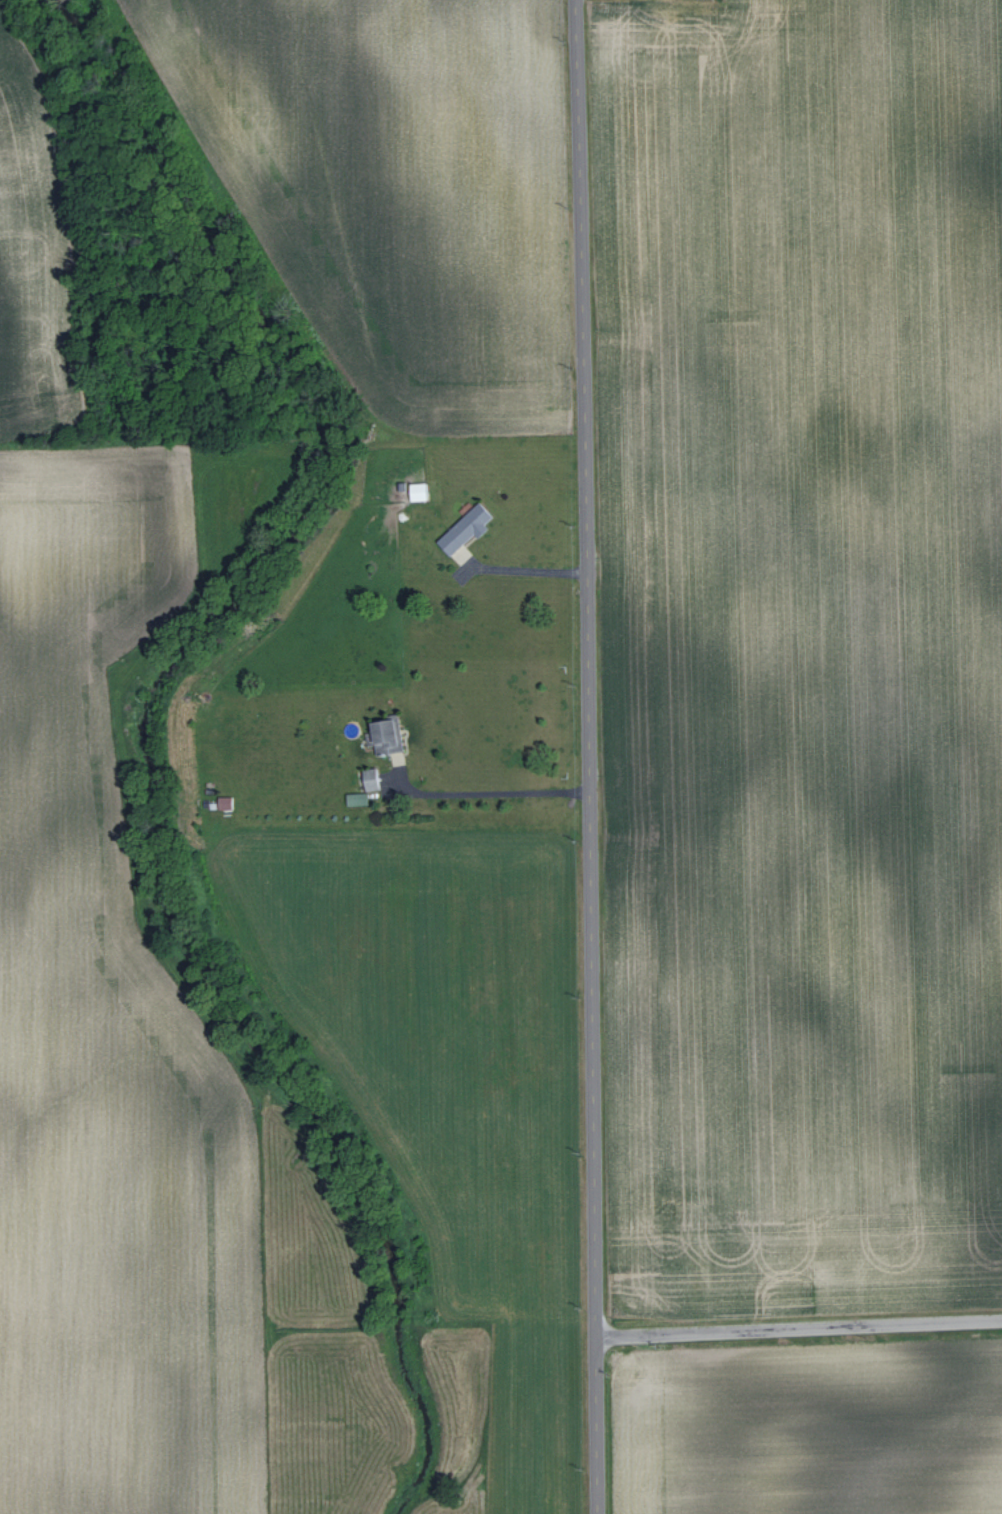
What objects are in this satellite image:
building: (421, 491)
building: (468, 528)
road: (527, 570)
building: (391, 733)
road: (589, 756)
building: (373, 778)
road: (485, 792)
building: (358, 798)
building: (226, 802)
road: (793, 1327)

